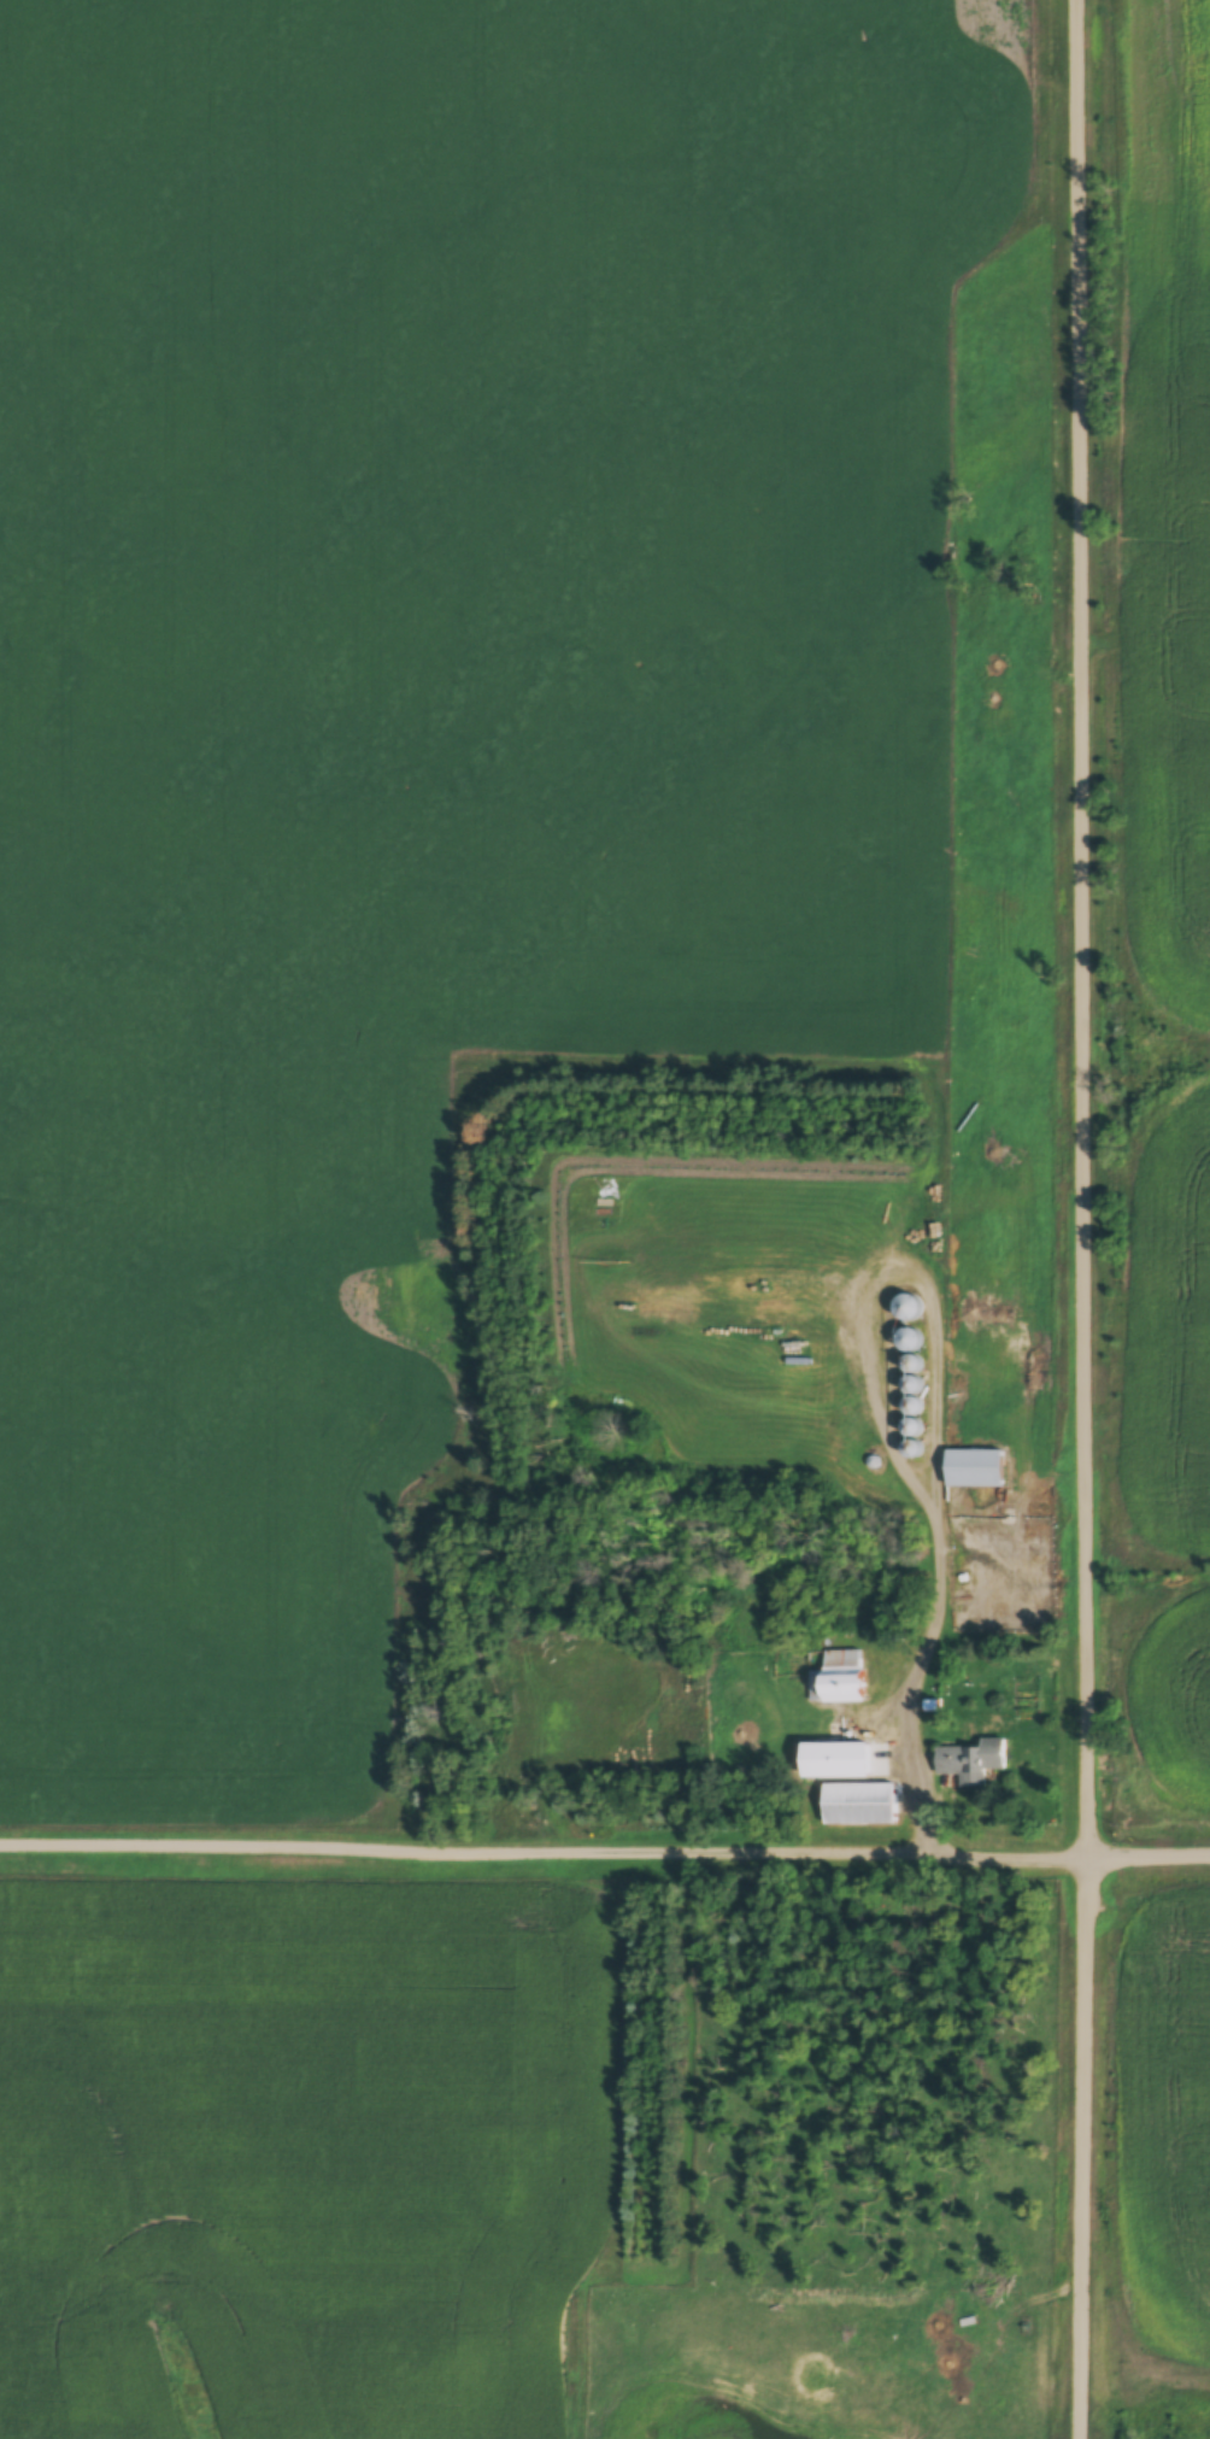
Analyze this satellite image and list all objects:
road: (1079, 1219)
building: (909, 1339)
building: (974, 1467)
building: (835, 1682)
building: (853, 1760)
building: (967, 1763)
road: (906, 1773)
building: (858, 1804)
road: (604, 1848)

